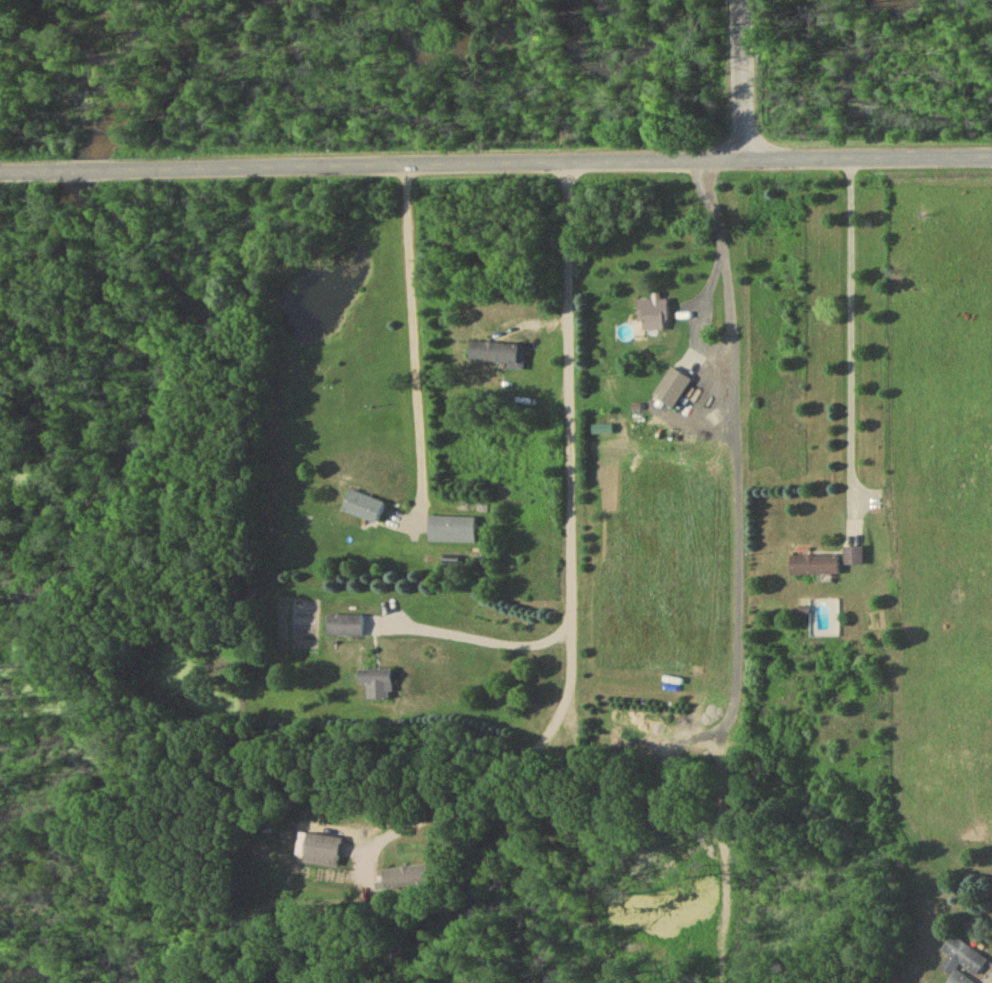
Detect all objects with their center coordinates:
road: (743, 78)
road: (495, 162)
road: (721, 239)
building: (654, 317)
road: (413, 327)
road: (852, 340)
building: (494, 355)
building: (672, 391)
road: (565, 428)
building: (365, 509)
building: (452, 532)
building: (854, 559)
building: (815, 568)
building: (346, 628)
road: (483, 641)
building: (379, 686)
road: (487, 783)
building: (409, 880)
building: (963, 963)

